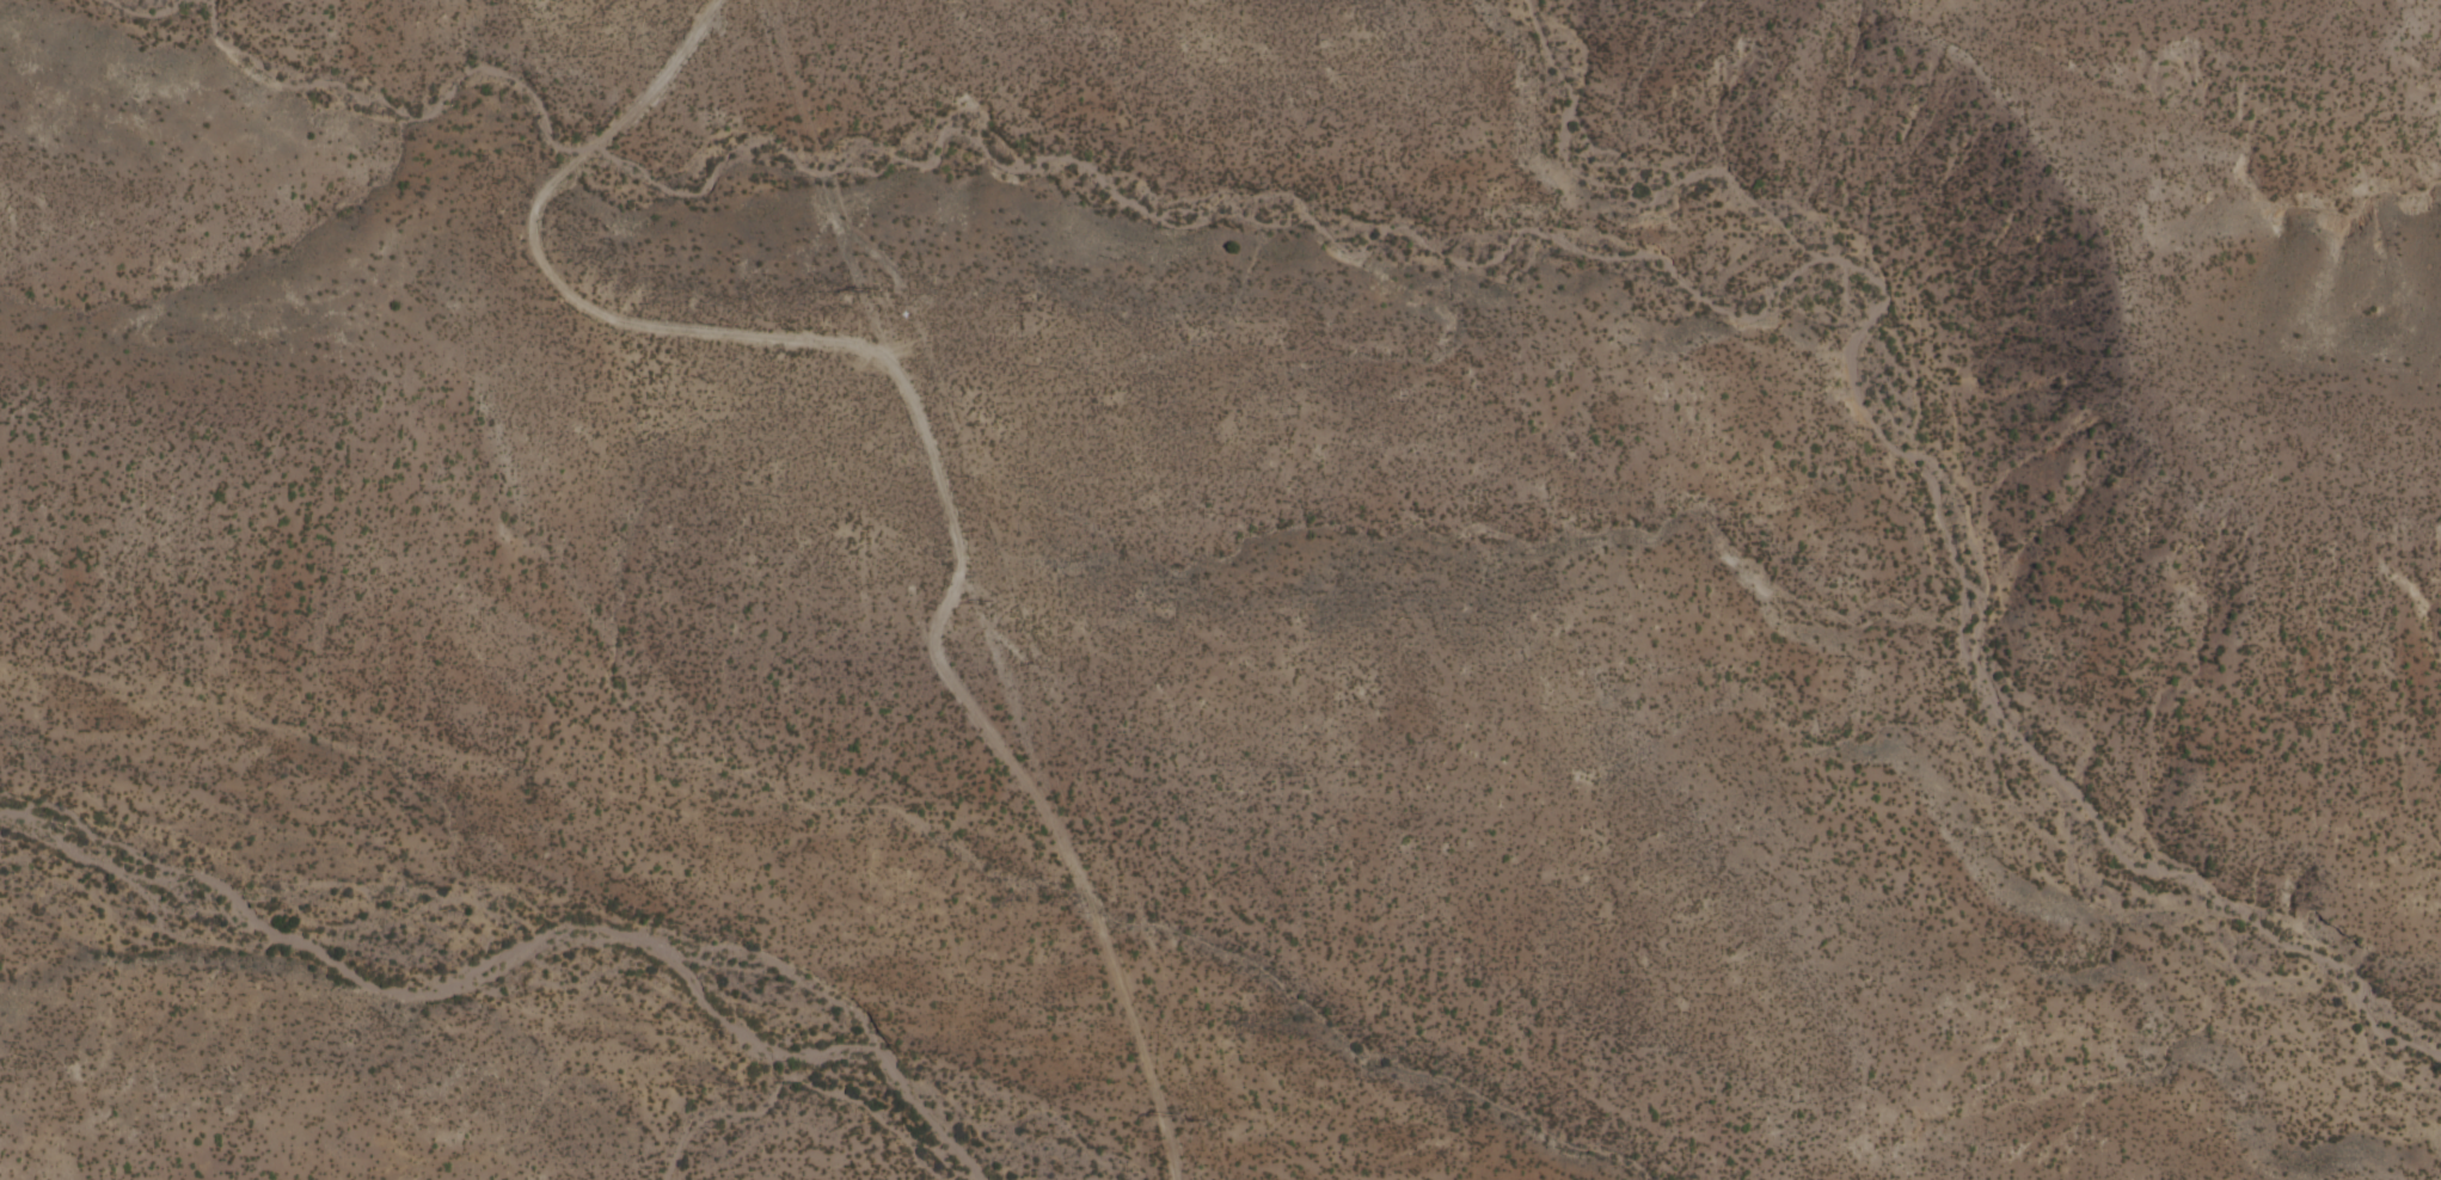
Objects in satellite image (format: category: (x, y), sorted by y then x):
road: (931, 447)

